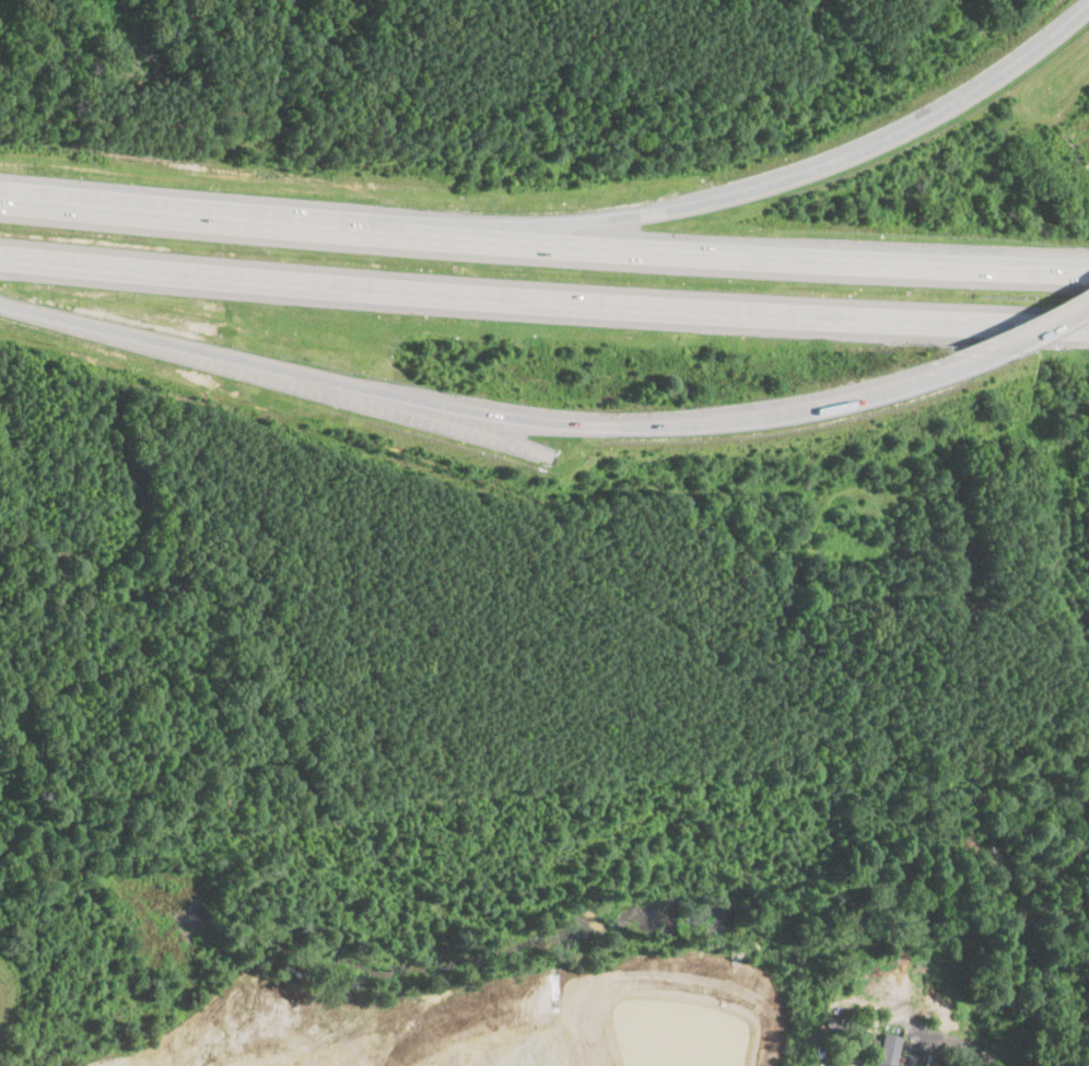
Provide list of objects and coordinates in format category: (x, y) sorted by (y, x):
road: (765, 185)
road: (543, 244)
road: (543, 301)
road: (1037, 326)
road: (491, 413)
road: (1009, 960)
road: (912, 1026)
building: (887, 1050)

